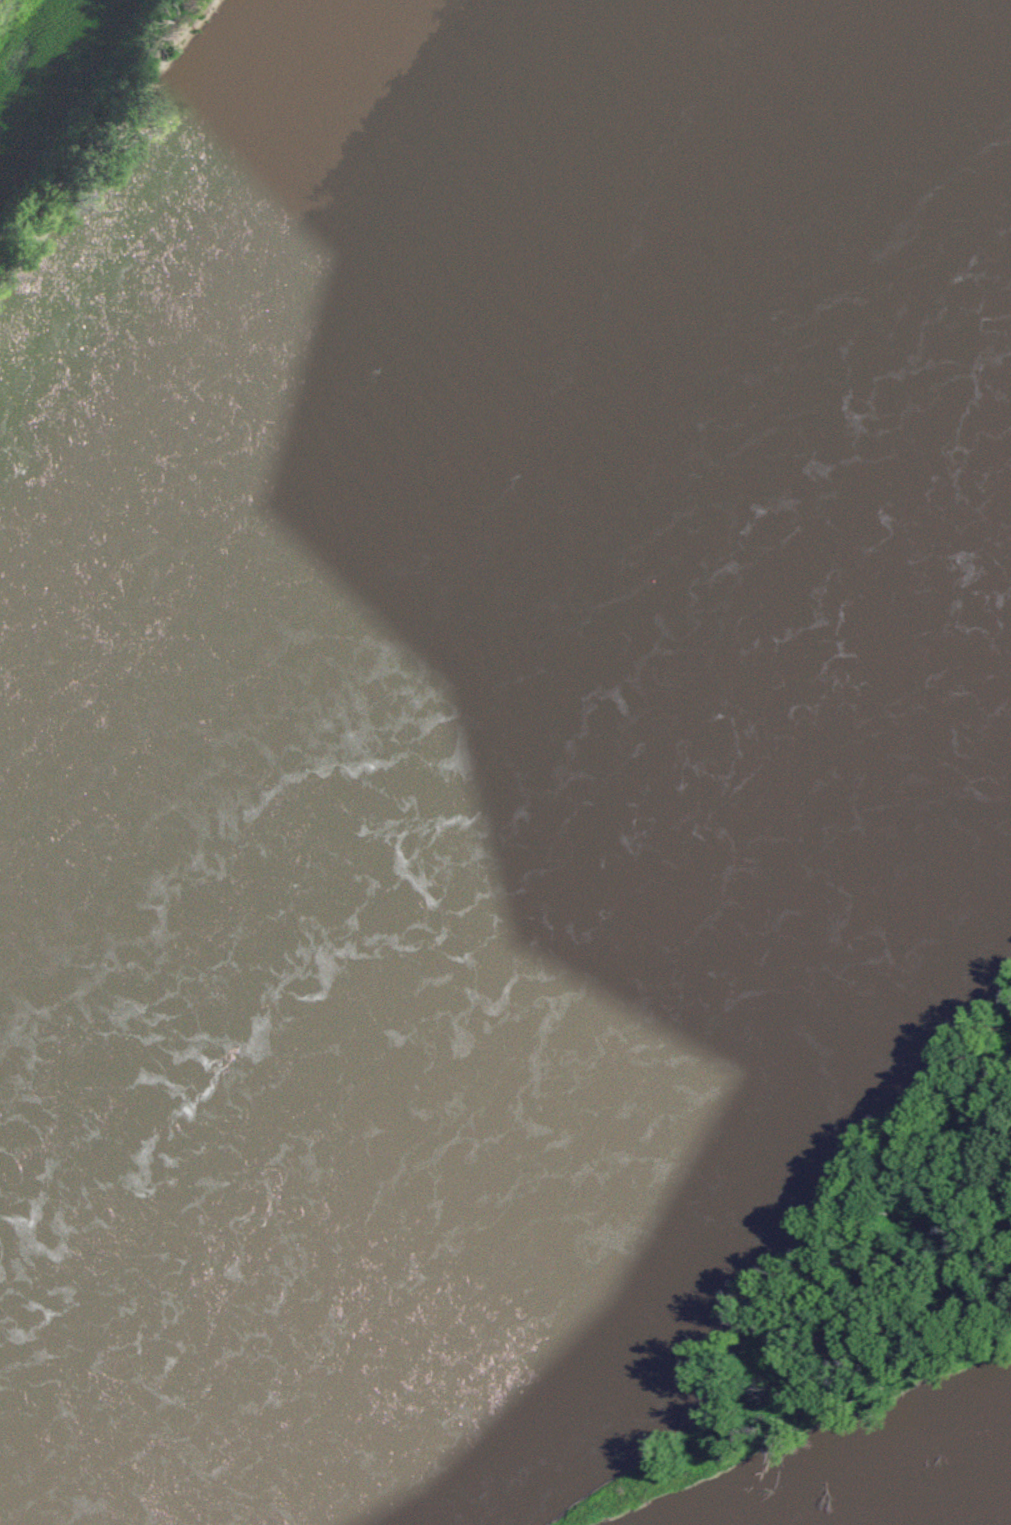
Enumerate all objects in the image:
river: (790, 249)
river: (332, 864)

